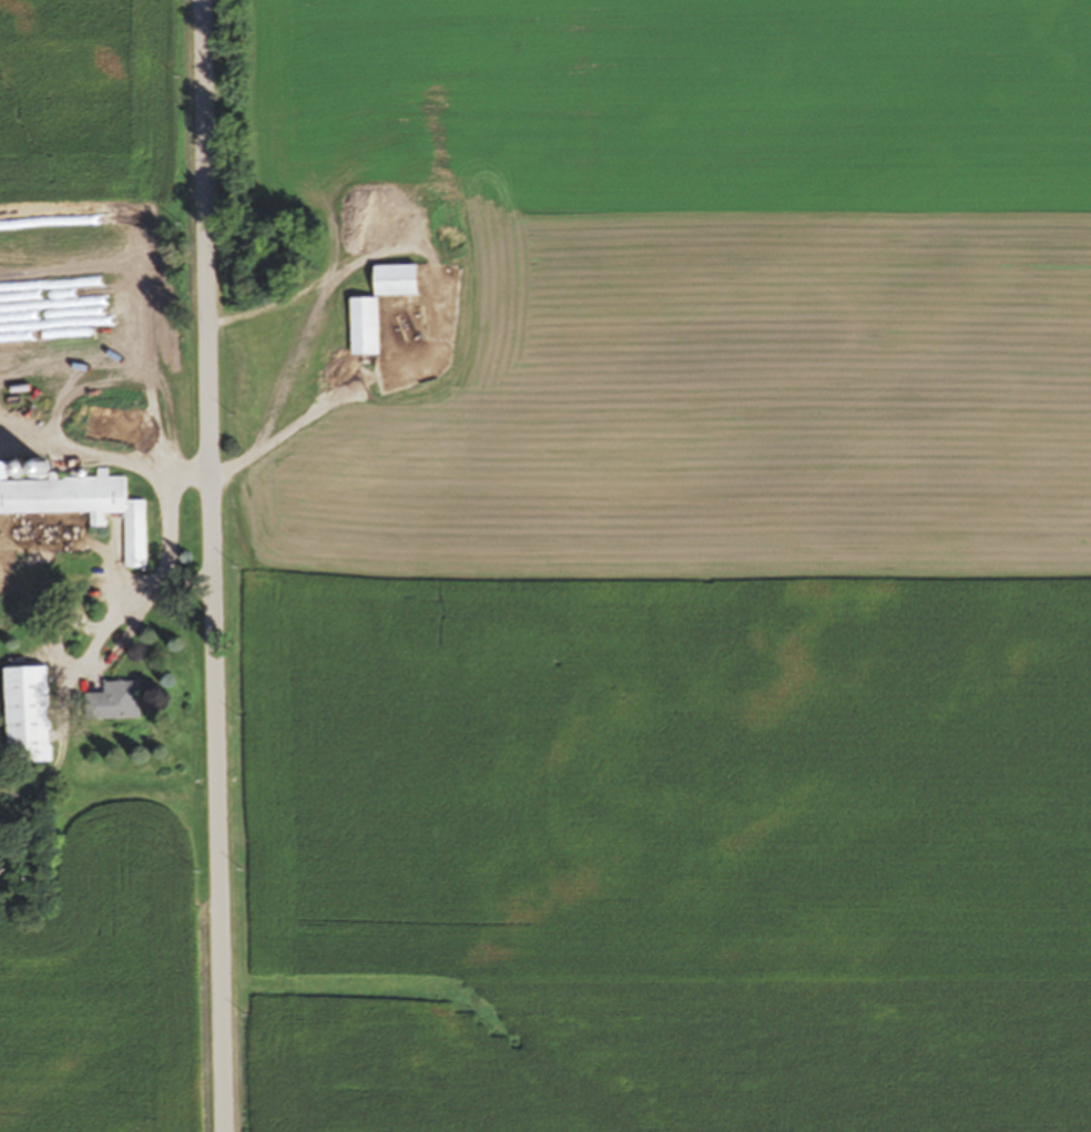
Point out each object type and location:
building: (398, 282)
building: (366, 327)
road: (345, 384)
road: (149, 401)
building: (82, 507)
road: (215, 565)
crop: (683, 577)
building: (116, 702)
building: (27, 716)

